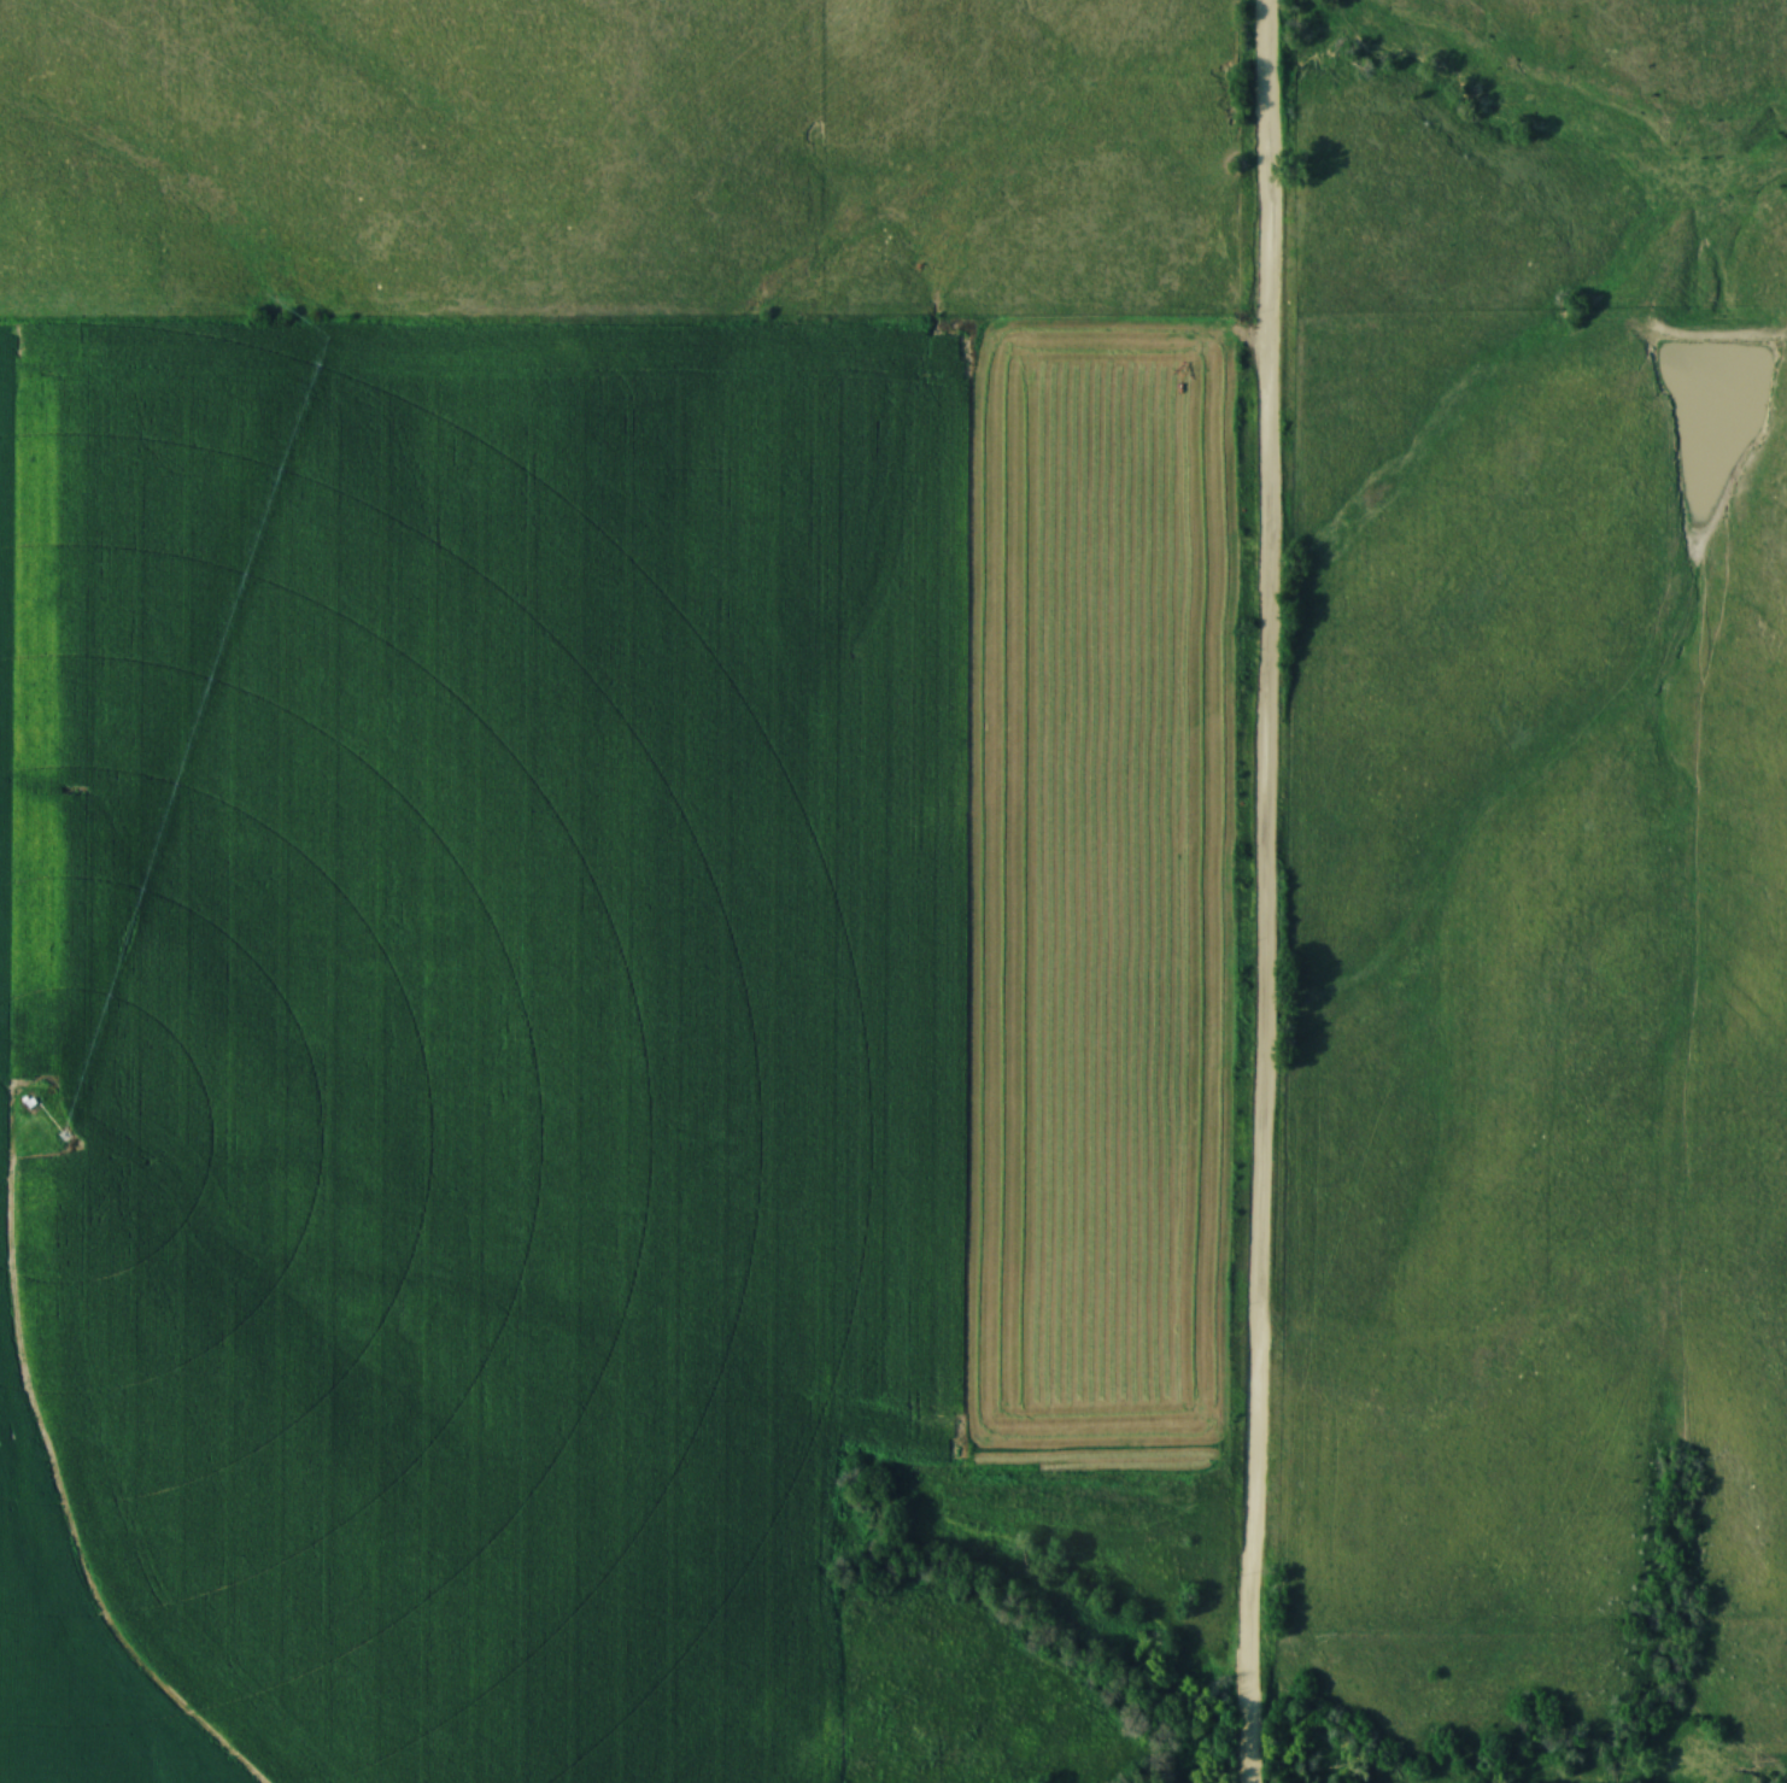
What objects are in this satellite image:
road: (1262, 891)

